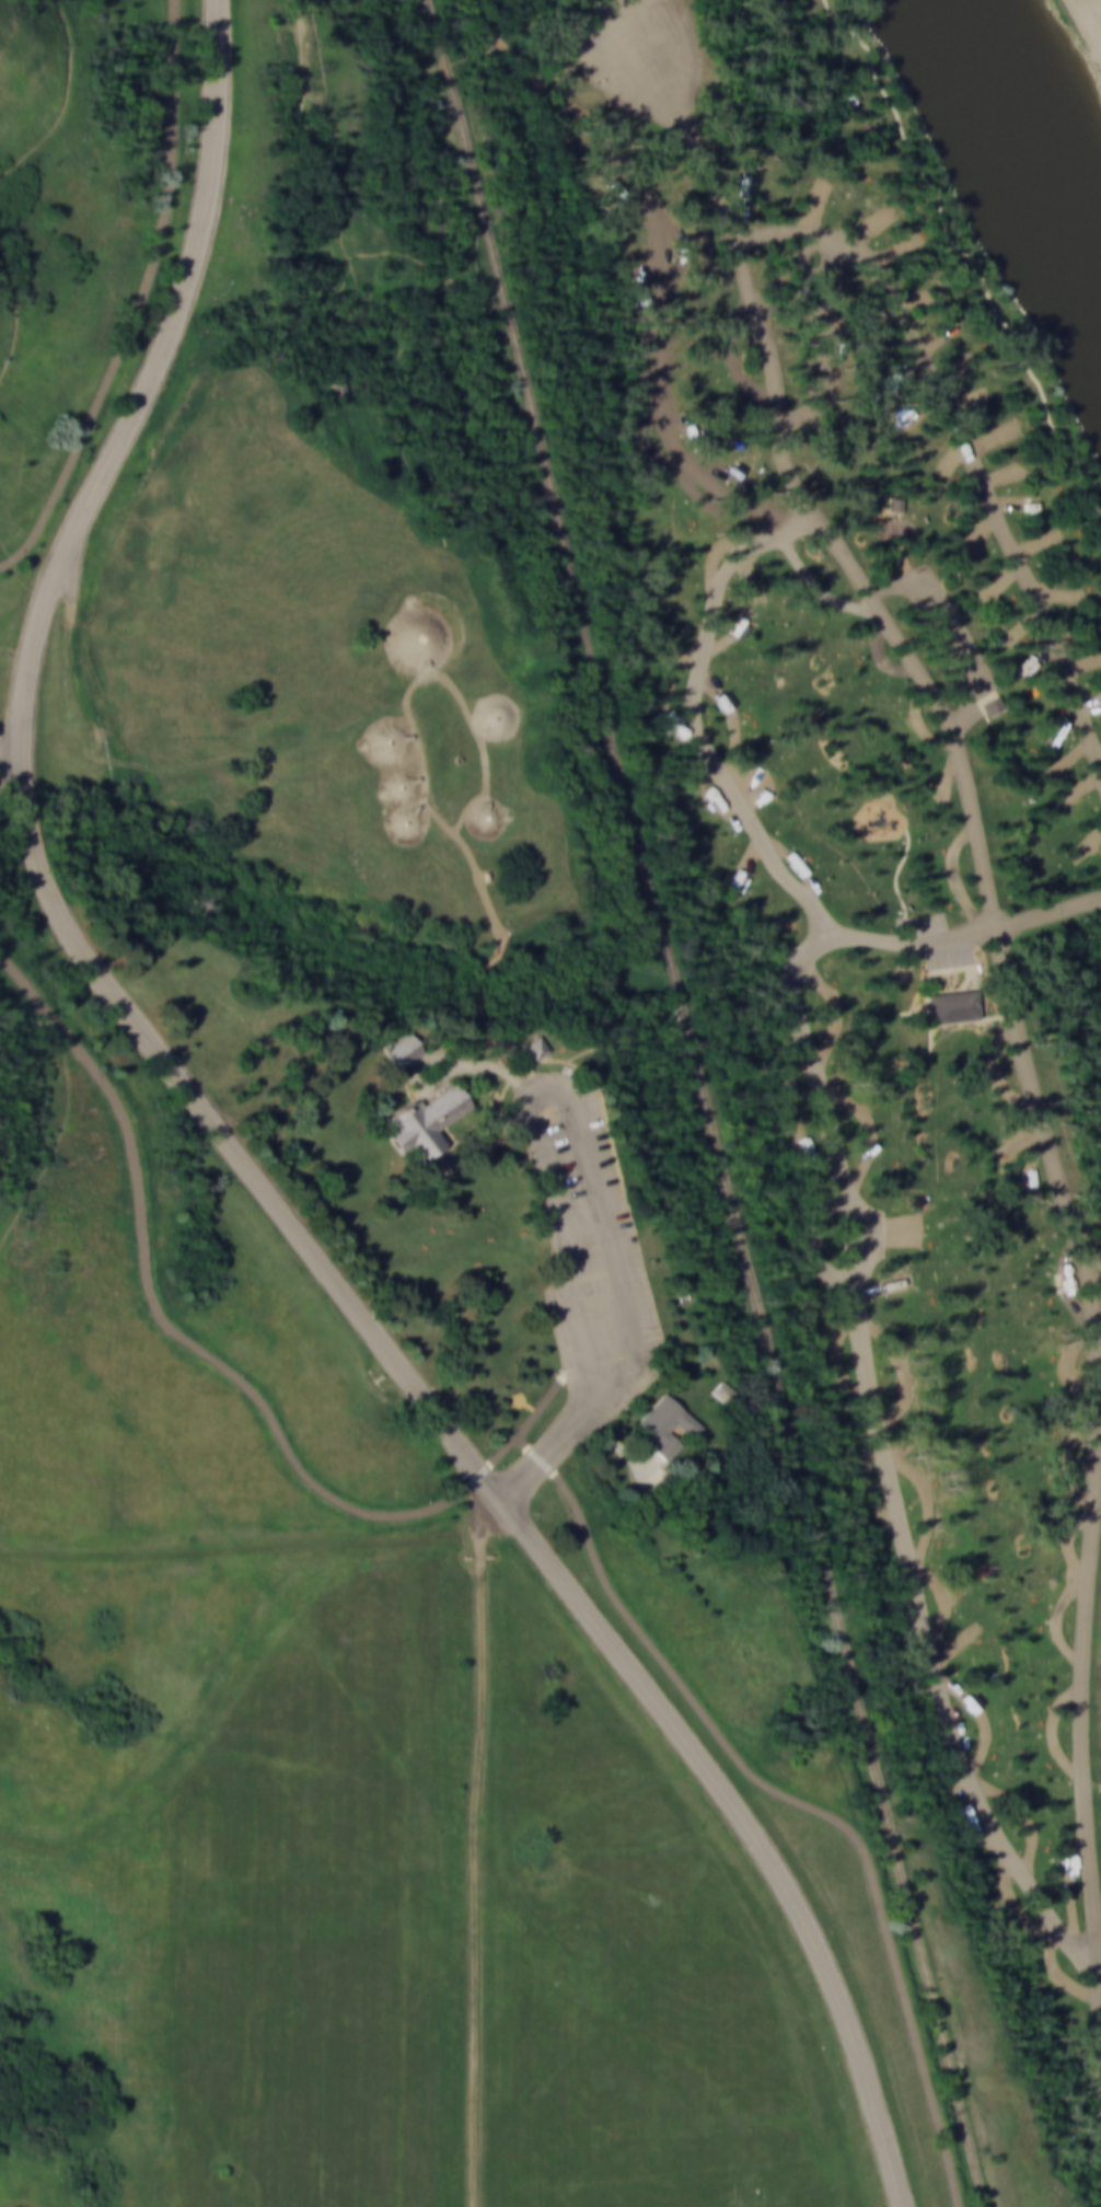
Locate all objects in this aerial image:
river: (1019, 146)
road: (533, 162)
road: (965, 257)
road: (750, 293)
road: (144, 301)
building: (416, 636)
road: (937, 702)
building: (990, 708)
building: (492, 717)
building: (385, 742)
road: (10, 764)
road: (151, 769)
building: (397, 787)
building: (486, 817)
building: (406, 823)
road: (966, 934)
building: (947, 1006)
building: (532, 1043)
building: (403, 1048)
road: (517, 1071)
railway: (707, 1103)
park: (545, 1113)
building: (425, 1122)
road: (236, 1154)
road: (610, 1342)
road: (188, 1344)
building: (718, 1393)
road: (548, 1411)
building: (661, 1424)
road: (1089, 1440)
road: (890, 1464)
road: (242, 1545)
road: (797, 1803)
road: (472, 1870)

